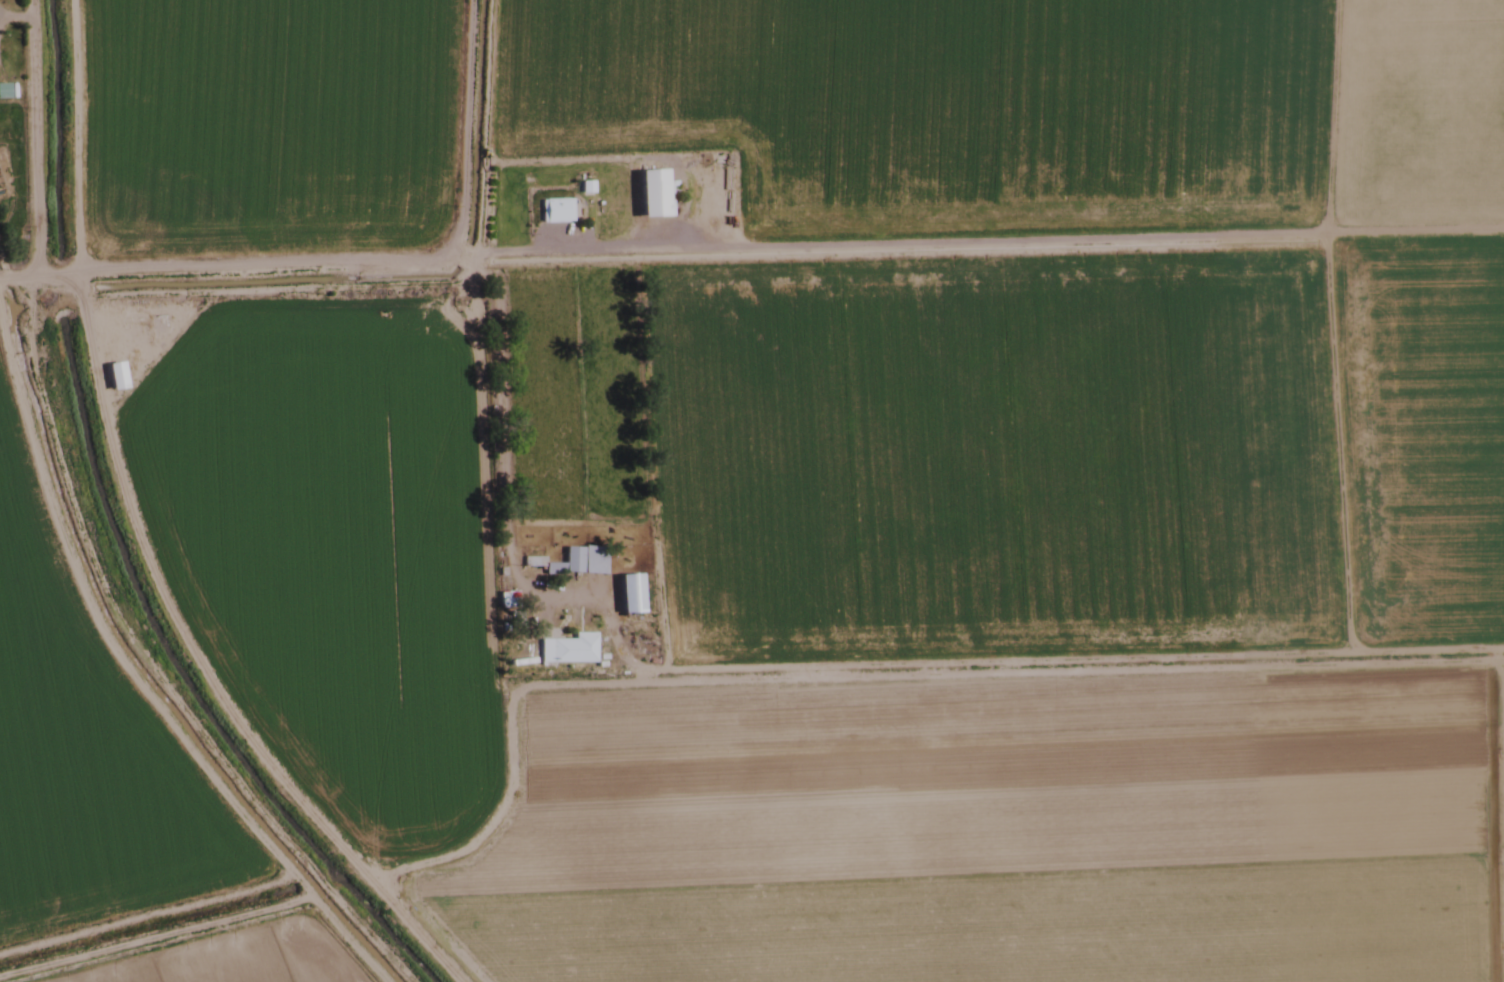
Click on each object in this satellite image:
building: (2, 92)
road: (449, 131)
road: (27, 138)
building: (653, 196)
building: (555, 212)
road: (252, 267)
road: (8, 275)
road: (40, 276)
building: (156, 328)
building: (114, 376)
building: (573, 562)
building: (628, 593)
building: (567, 650)
road: (200, 665)

